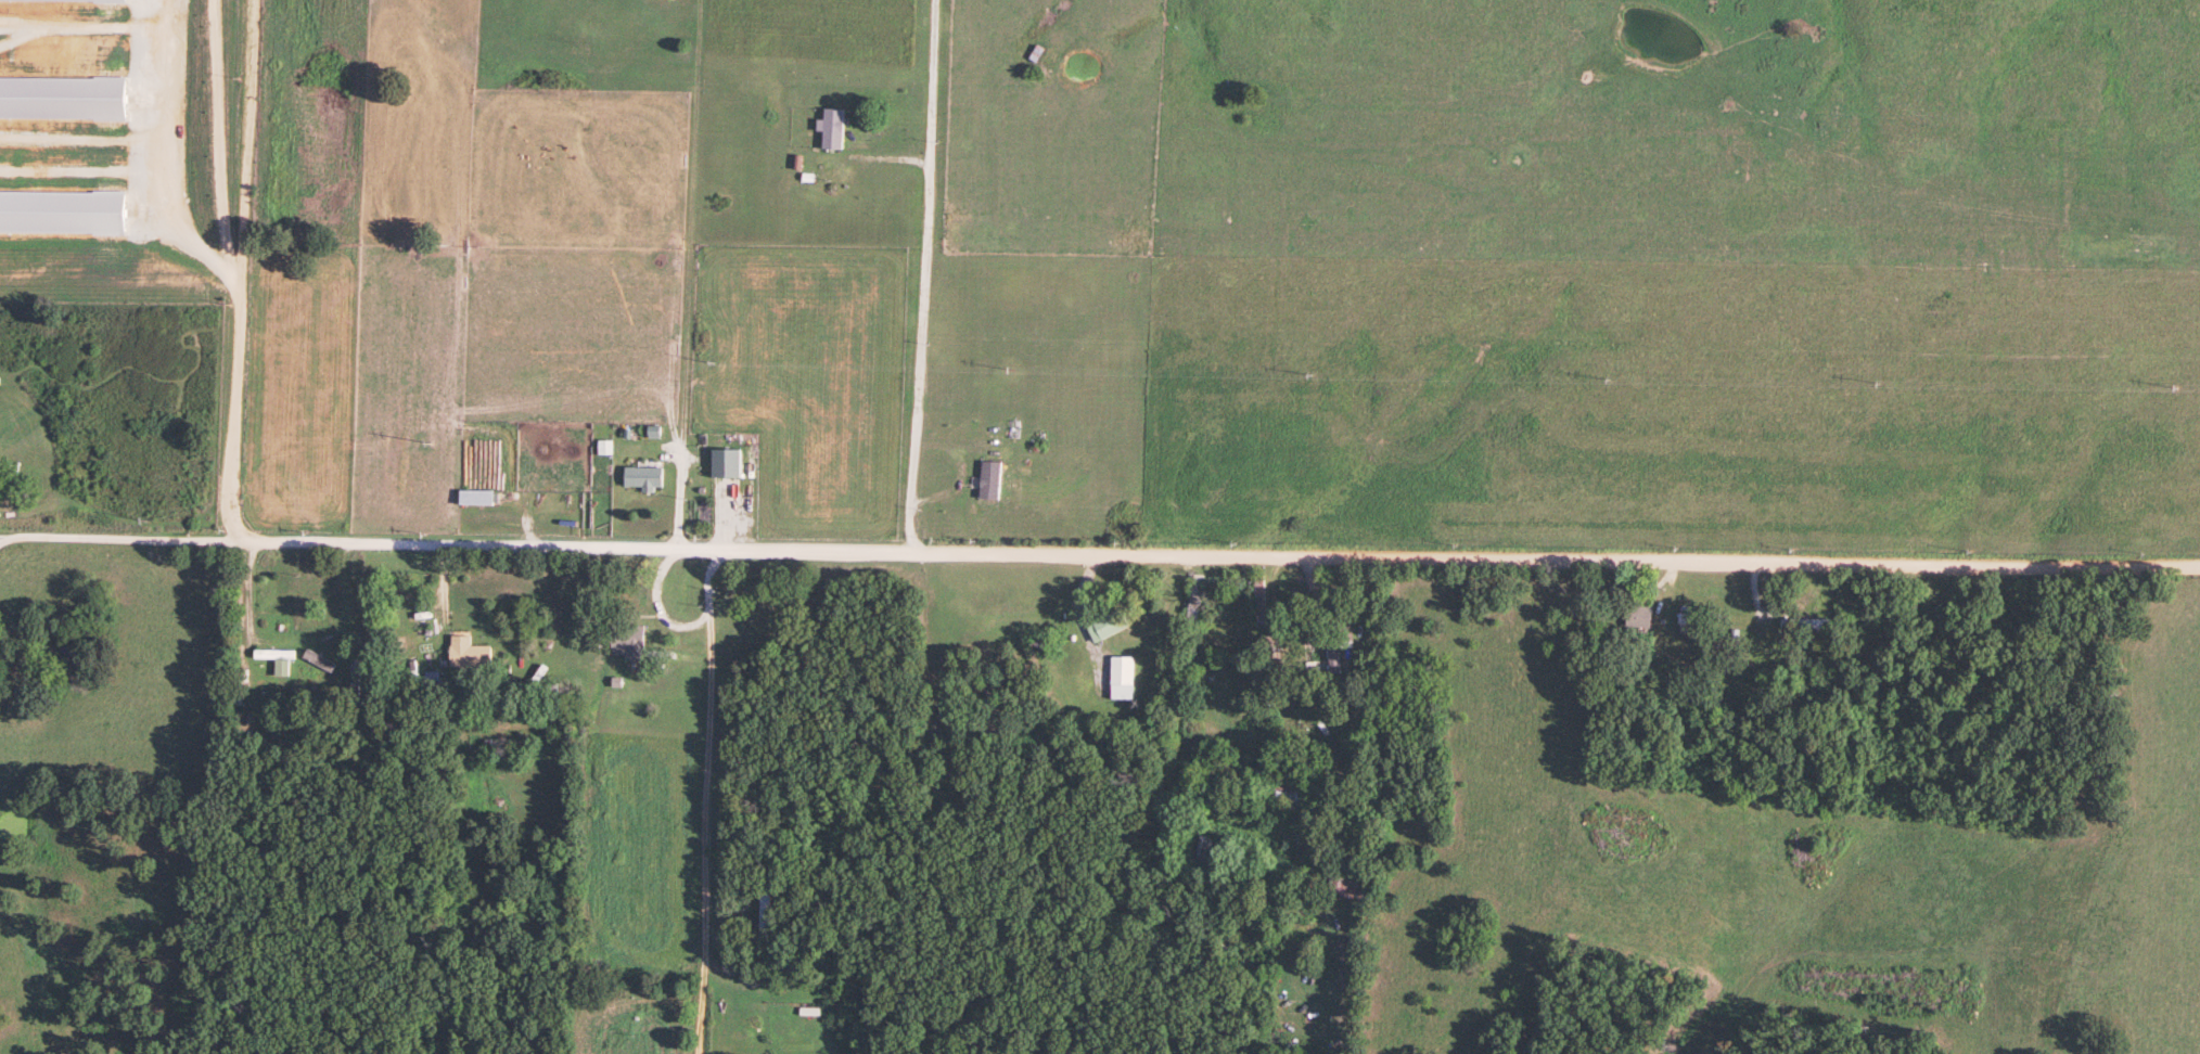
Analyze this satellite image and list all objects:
building: (830, 131)
road: (241, 269)
road: (690, 274)
road: (923, 279)
building: (641, 478)
building: (987, 483)
building: (473, 499)
road: (116, 539)
road: (9, 547)
road: (1216, 560)
building: (1257, 600)
building: (1633, 617)
road: (534, 619)
building: (1103, 626)
building: (1801, 626)
building: (625, 643)
building: (1322, 653)
building: (468, 657)
building: (1120, 679)
road: (1354, 711)
building: (1280, 796)
road: (706, 802)
building: (1340, 887)
building: (768, 917)

